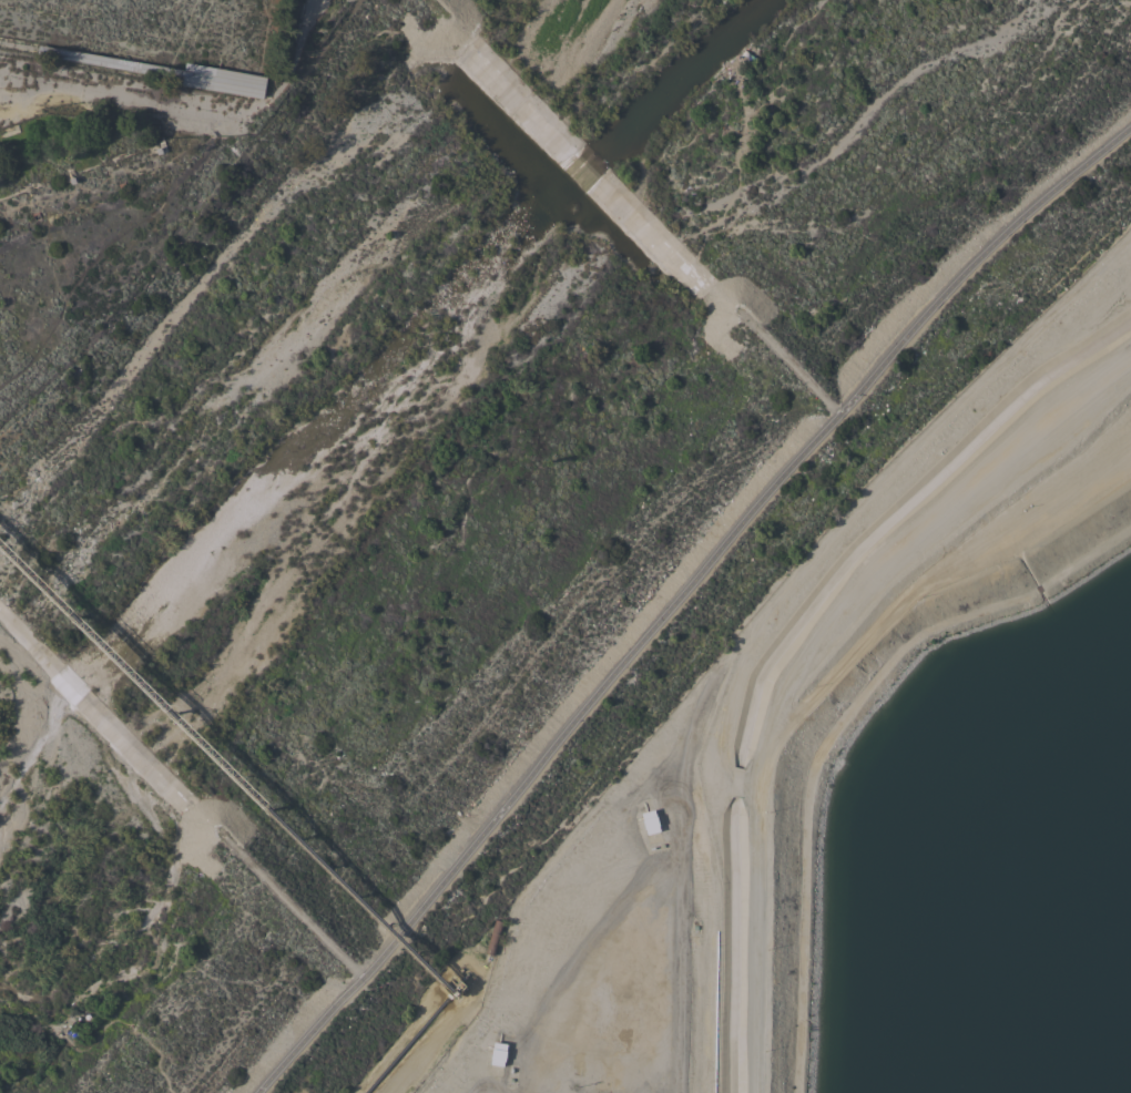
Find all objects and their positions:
quarry: (244, 21)
building: (156, 69)
river: (557, 78)
road: (188, 103)
river: (354, 406)
road: (679, 594)
road: (801, 657)
road: (724, 779)
building: (649, 821)
road: (550, 910)
road: (683, 933)
building: (493, 937)
building: (450, 985)
building: (497, 1053)

